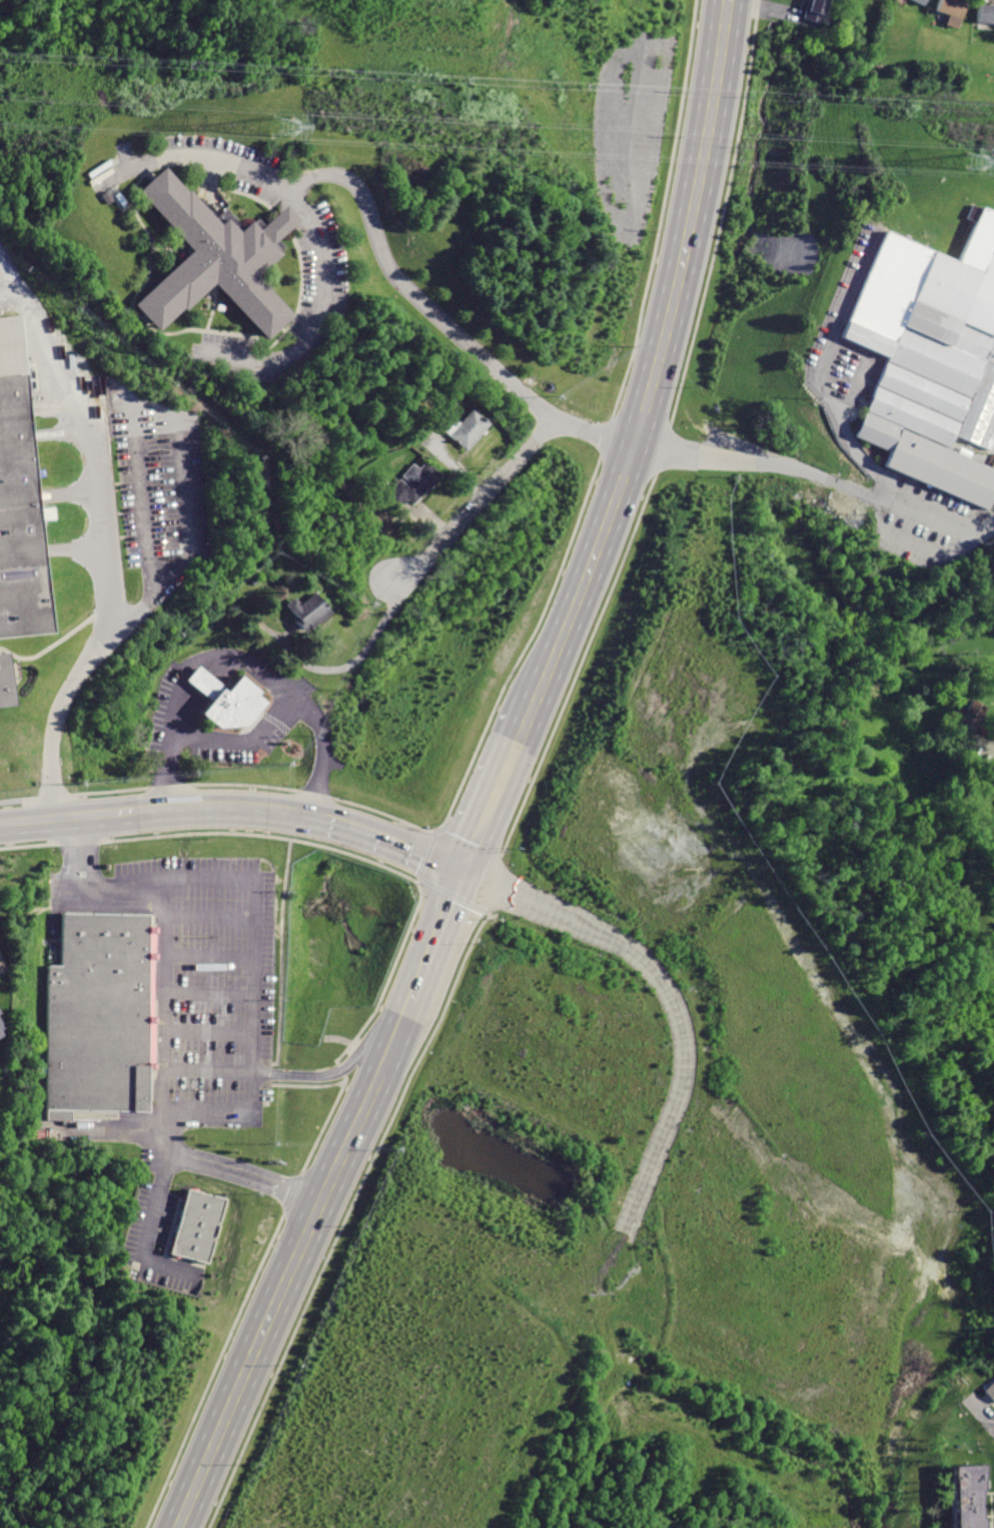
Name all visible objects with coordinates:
building: (921, 2)
building: (814, 10)
building: (951, 11)
building: (985, 13)
power tower: (280, 127)
power tower: (973, 161)
road: (317, 232)
building: (221, 249)
road: (413, 289)
road: (656, 354)
building: (931, 359)
road: (827, 375)
building: (465, 428)
road: (99, 429)
road: (754, 460)
road: (506, 476)
building: (412, 486)
building: (16, 505)
road: (933, 515)
building: (306, 611)
road: (211, 653)
building: (2, 685)
building: (224, 698)
road: (58, 713)
building: (970, 716)
road: (532, 721)
road: (265, 726)
road: (992, 740)
road: (244, 783)
road: (169, 784)
road: (109, 790)
road: (315, 794)
road: (53, 795)
road: (17, 798)
road: (494, 808)
road: (177, 812)
road: (385, 813)
road: (26, 822)
road: (265, 834)
road: (81, 841)
road: (384, 842)
road: (29, 844)
road: (430, 853)
traffic signals: (466, 872)
road: (420, 880)
road: (490, 882)
road: (499, 883)
road: (457, 894)
road: (206, 913)
road: (493, 913)
road: (162, 942)
road: (434, 944)
road: (206, 952)
road: (280, 952)
park: (2, 967)
road: (388, 978)
road: (206, 992)
road: (249, 996)
building: (102, 1018)
road: (685, 1018)
building: (0, 1029)
road: (205, 1030)
road: (398, 1030)
road: (260, 1061)
road: (205, 1068)
road: (339, 1068)
road: (324, 1074)
road: (260, 1083)
road: (306, 1085)
road: (323, 1123)
road: (109, 1126)
road: (176, 1153)
road: (255, 1178)
road: (294, 1193)
road: (347, 1214)
building: (195, 1225)
road: (145, 1231)
road: (287, 1286)
road: (216, 1371)
building: (990, 1389)
road: (983, 1411)
building: (970, 1494)

